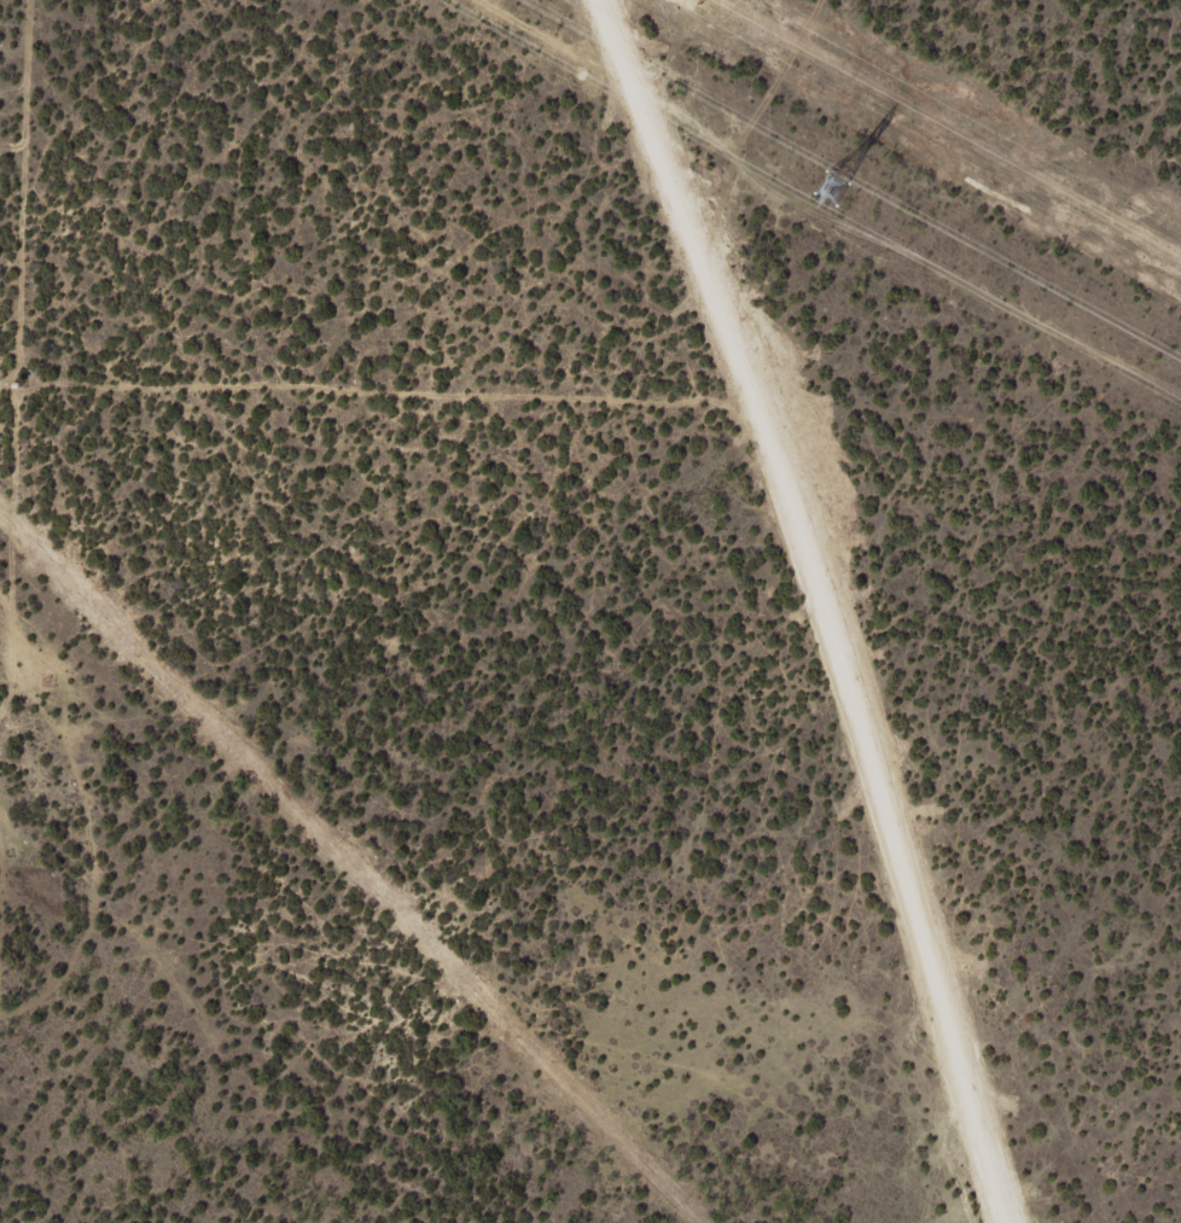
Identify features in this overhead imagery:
power tower: (825, 186)
road: (825, 605)

